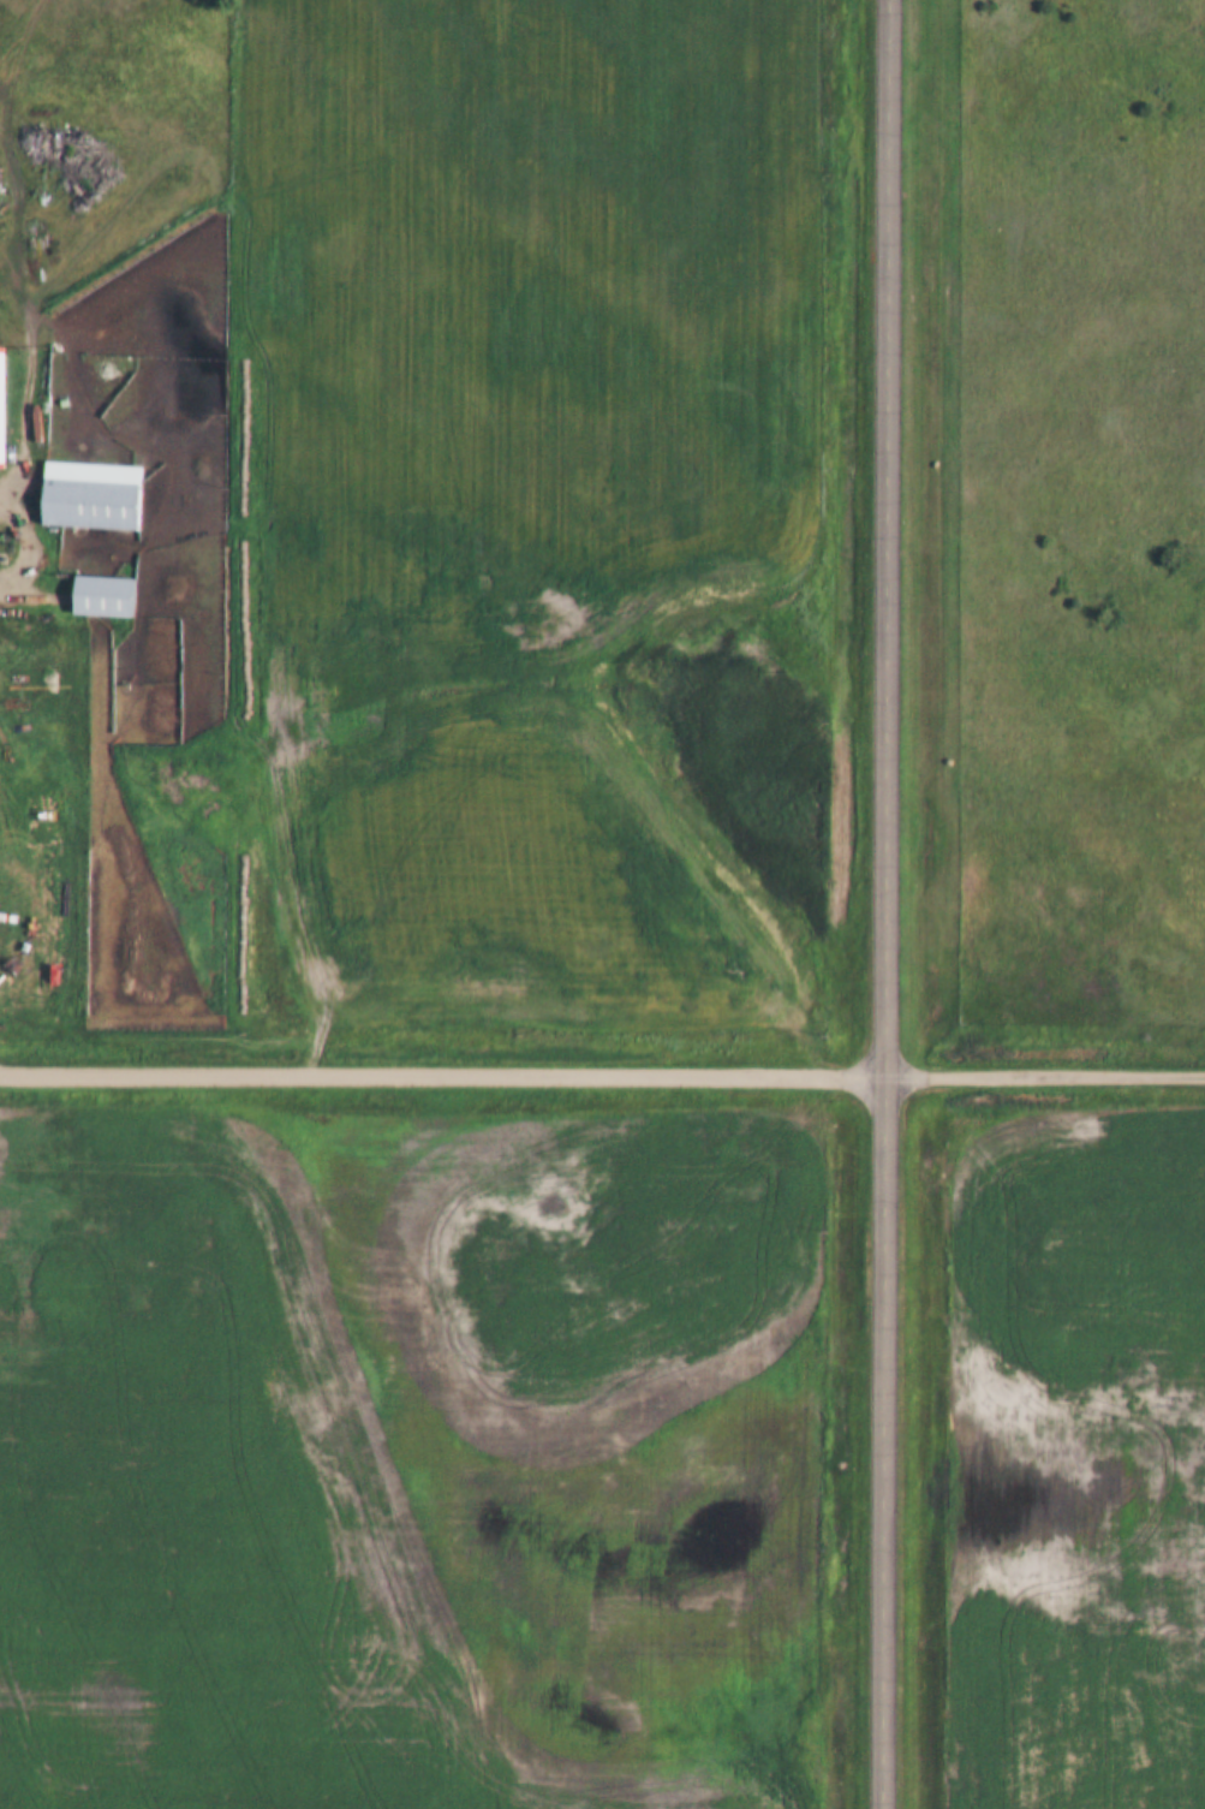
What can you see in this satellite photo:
building: (93, 494)
building: (106, 595)
road: (887, 904)
road: (443, 1069)
road: (1045, 1069)

